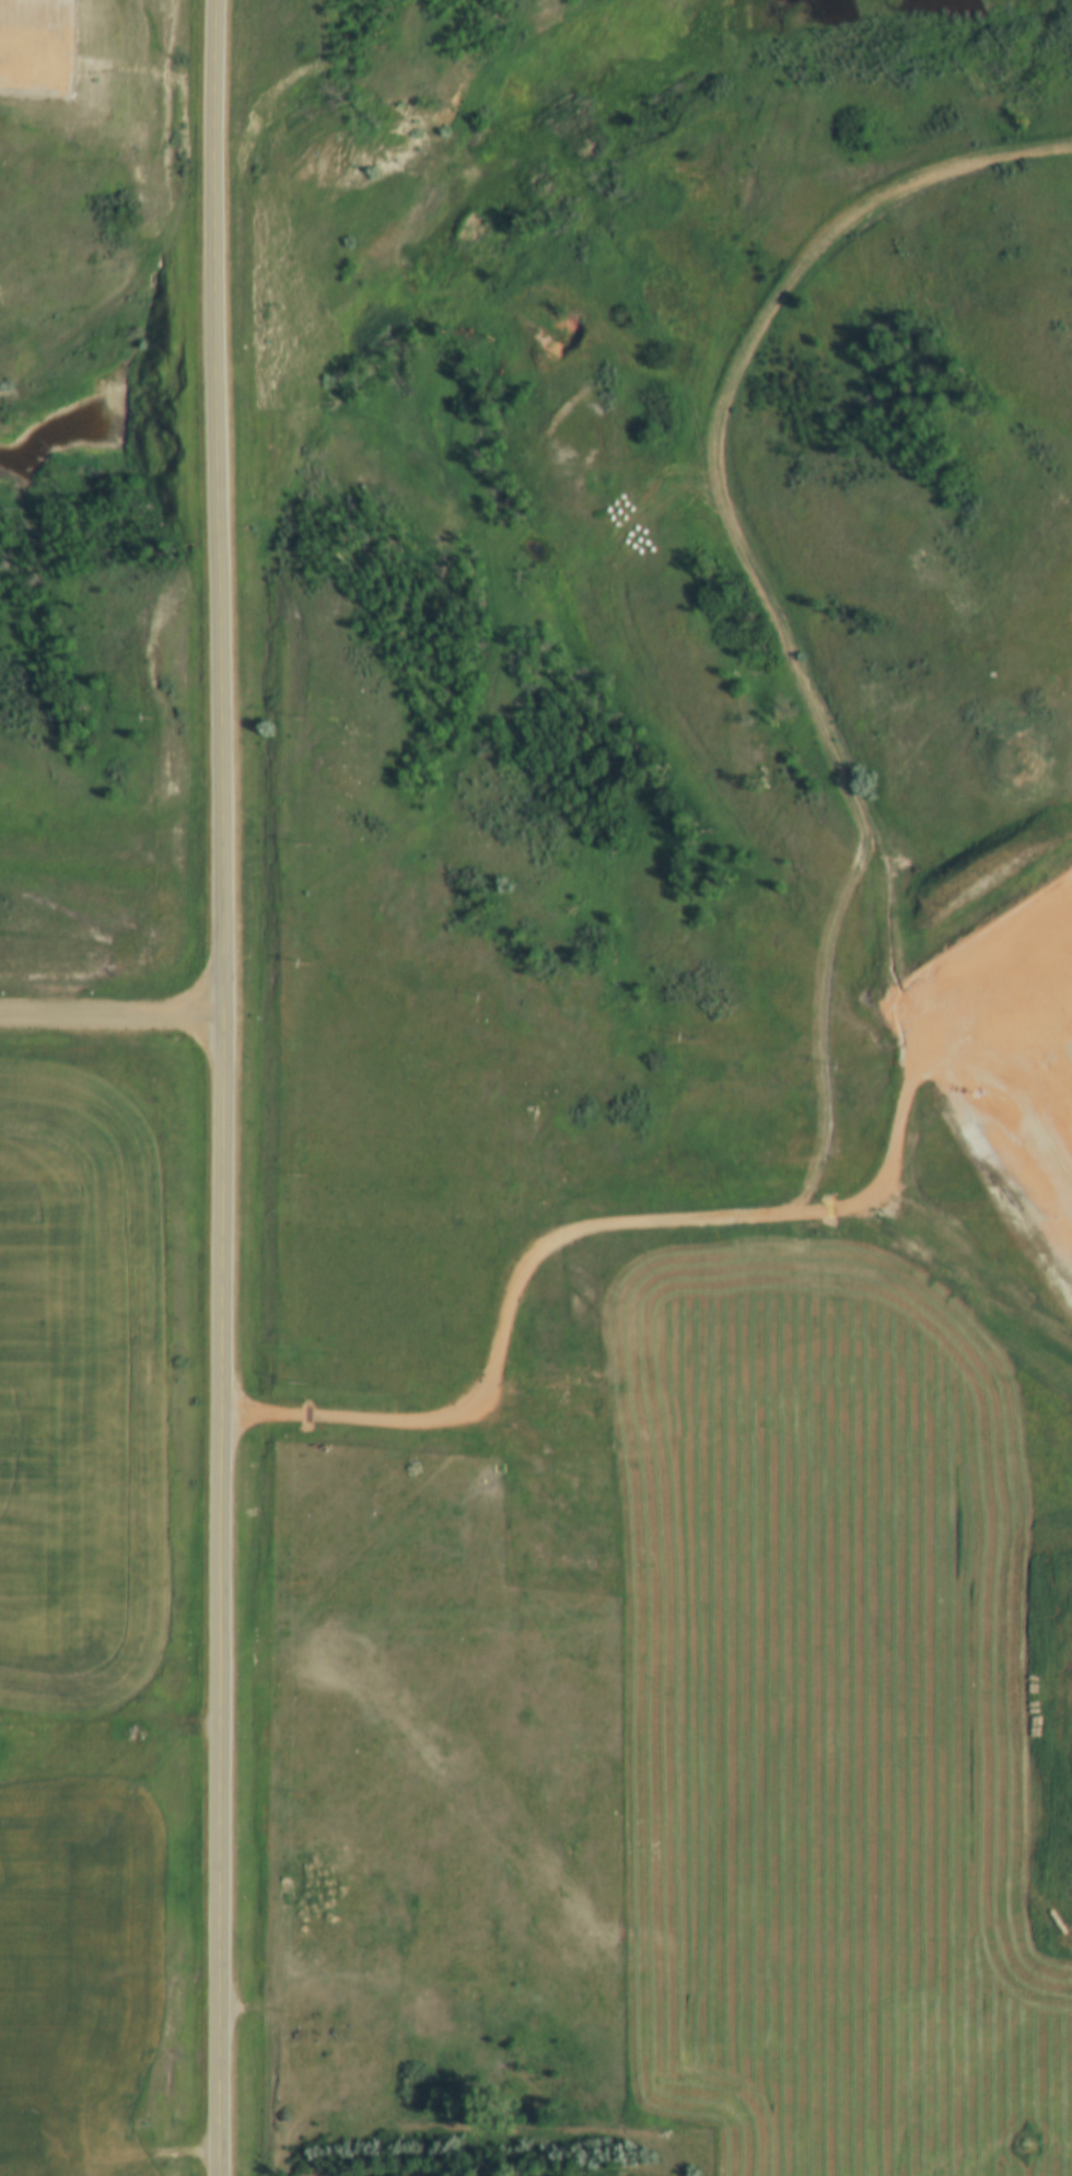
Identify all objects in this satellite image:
road: (727, 517)
road: (109, 1020)
road: (222, 1087)
road: (955, 1214)
road: (657, 1225)
building: (113, 2108)

